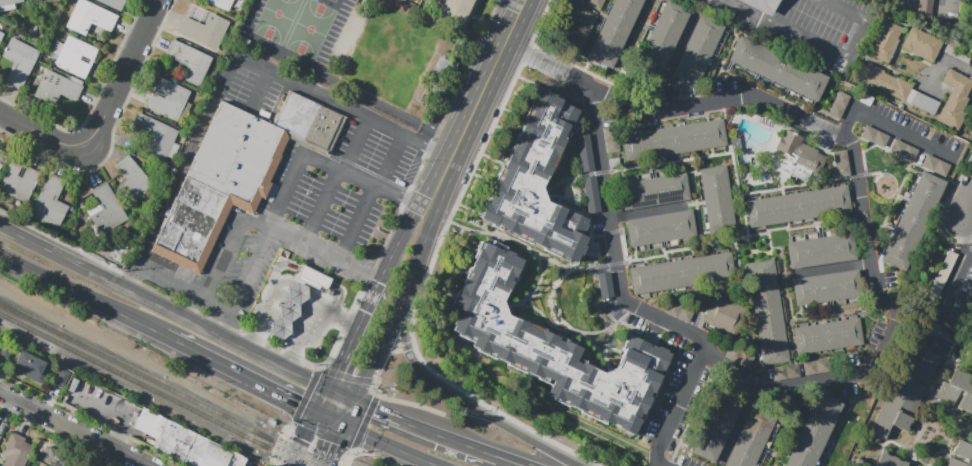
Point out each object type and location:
road: (523, 0)
building: (906, 0)
building: (8, 2)
building: (113, 3)
building: (220, 4)
building: (595, 4)
parking lot: (340, 5)
building: (762, 5)
building: (924, 6)
road: (942, 9)
building: (458, 11)
building: (675, 12)
building: (89, 17)
park: (268, 17)
building: (668, 27)
building: (708, 27)
parking lot: (805, 28)
building: (204, 29)
park: (311, 29)
road: (564, 31)
building: (582, 31)
building: (613, 31)
building: (1, 36)
building: (885, 41)
building: (660, 42)
building: (701, 43)
building: (921, 44)
road: (825, 47)
road: (630, 49)
road: (895, 51)
building: (76, 57)
building: (653, 58)
building: (694, 58)
road: (230, 59)
road: (919, 59)
building: (189, 61)
building: (19, 62)
road: (944, 62)
road: (671, 64)
road: (719, 67)
building: (778, 69)
road: (125, 73)
building: (686, 73)
road: (897, 74)
building: (883, 80)
building: (57, 88)
building: (954, 98)
building: (865, 99)
building: (169, 100)
building: (839, 103)
building: (924, 103)
road: (476, 105)
road: (501, 110)
road: (968, 115)
road: (889, 125)
road: (41, 132)
building: (157, 136)
road: (840, 136)
building: (875, 137)
building: (610, 139)
building: (674, 140)
building: (734, 143)
building: (903, 150)
road: (827, 152)
building: (797, 154)
road: (904, 158)
road: (670, 161)
building: (841, 163)
road: (863, 163)
building: (935, 165)
road: (327, 166)
road: (965, 168)
road: (601, 172)
building: (237, 173)
road: (579, 175)
building: (712, 175)
road: (855, 175)
road: (336, 178)
building: (133, 179)
building: (19, 180)
building: (536, 182)
road: (576, 187)
building: (679, 187)
building: (663, 189)
building: (646, 192)
building: (715, 192)
road: (745, 192)
road: (370, 194)
building: (630, 195)
building: (51, 201)
road: (694, 202)
road: (890, 204)
road: (967, 205)
building: (798, 206)
road: (581, 207)
building: (717, 208)
building: (106, 210)
road: (646, 211)
parking lot: (303, 218)
building: (912, 220)
road: (941, 220)
building: (685, 224)
road: (815, 224)
road: (254, 225)
building: (720, 225)
building: (669, 227)
building: (653, 229)
road: (612, 231)
building: (636, 232)
road: (761, 233)
road: (398, 241)
road: (622, 245)
building: (847, 246)
road: (685, 248)
road: (528, 249)
building: (830, 249)
road: (327, 250)
building: (813, 252)
building: (796, 254)
road: (616, 263)
road: (835, 267)
road: (958, 272)
building: (682, 273)
road: (965, 276)
building: (314, 277)
road: (315, 277)
building: (307, 282)
road: (549, 282)
road: (618, 283)
building: (851, 283)
building: (835, 286)
road: (534, 287)
building: (935, 287)
building: (818, 288)
road: (182, 291)
road: (306, 291)
building: (802, 291)
road: (82, 299)
road: (709, 299)
road: (291, 302)
road: (396, 305)
road: (552, 305)
road: (165, 308)
building: (767, 308)
road: (744, 309)
building: (290, 310)
gas station: (290, 310)
road: (259, 312)
building: (679, 312)
building: (721, 314)
road: (820, 314)
road: (283, 318)
road: (345, 319)
building: (969, 322)
road: (611, 327)
road: (573, 330)
road: (304, 331)
road: (277, 332)
road: (354, 335)
building: (827, 336)
road: (591, 341)
building: (551, 347)
road: (406, 348)
road: (962, 348)
building: (6, 351)
road: (792, 351)
road: (956, 357)
road: (605, 358)
building: (31, 366)
building: (816, 366)
traffic signals: (338, 371)
building: (786, 372)
building: (62, 377)
road: (241, 378)
road: (443, 379)
road: (934, 381)
railway: (162, 385)
railway: (152, 390)
building: (957, 390)
building: (731, 393)
road: (342, 394)
building: (903, 394)
road: (453, 395)
road: (380, 397)
road: (325, 402)
traffic signals: (297, 407)
traffic signals: (375, 408)
road: (676, 409)
building: (723, 411)
road: (118, 412)
road: (347, 412)
road: (6, 413)
building: (760, 419)
road: (330, 420)
road: (841, 420)
road: (739, 421)
road: (780, 425)
road: (426, 428)
road: (74, 429)
building: (714, 429)
building: (814, 432)
road: (935, 433)
building: (753, 434)
road: (306, 440)
building: (183, 443)
road: (946, 443)
traffic signals: (332, 444)
road: (331, 445)
road: (390, 445)
building: (706, 447)
road: (908, 449)
building: (16, 450)
building: (746, 450)
road: (878, 451)
building: (961, 455)
road: (105, 456)
building: (53, 457)
building: (889, 460)
road: (511, 461)
building: (737, 461)
road: (910, 461)
building: (861, 463)
building: (37, 465)

